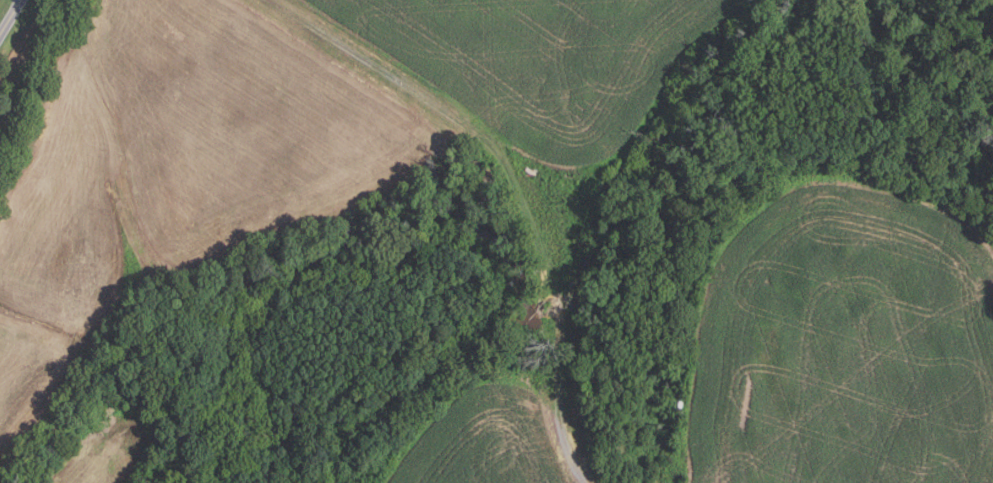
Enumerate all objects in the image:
road: (11, 19)
road: (518, 182)

